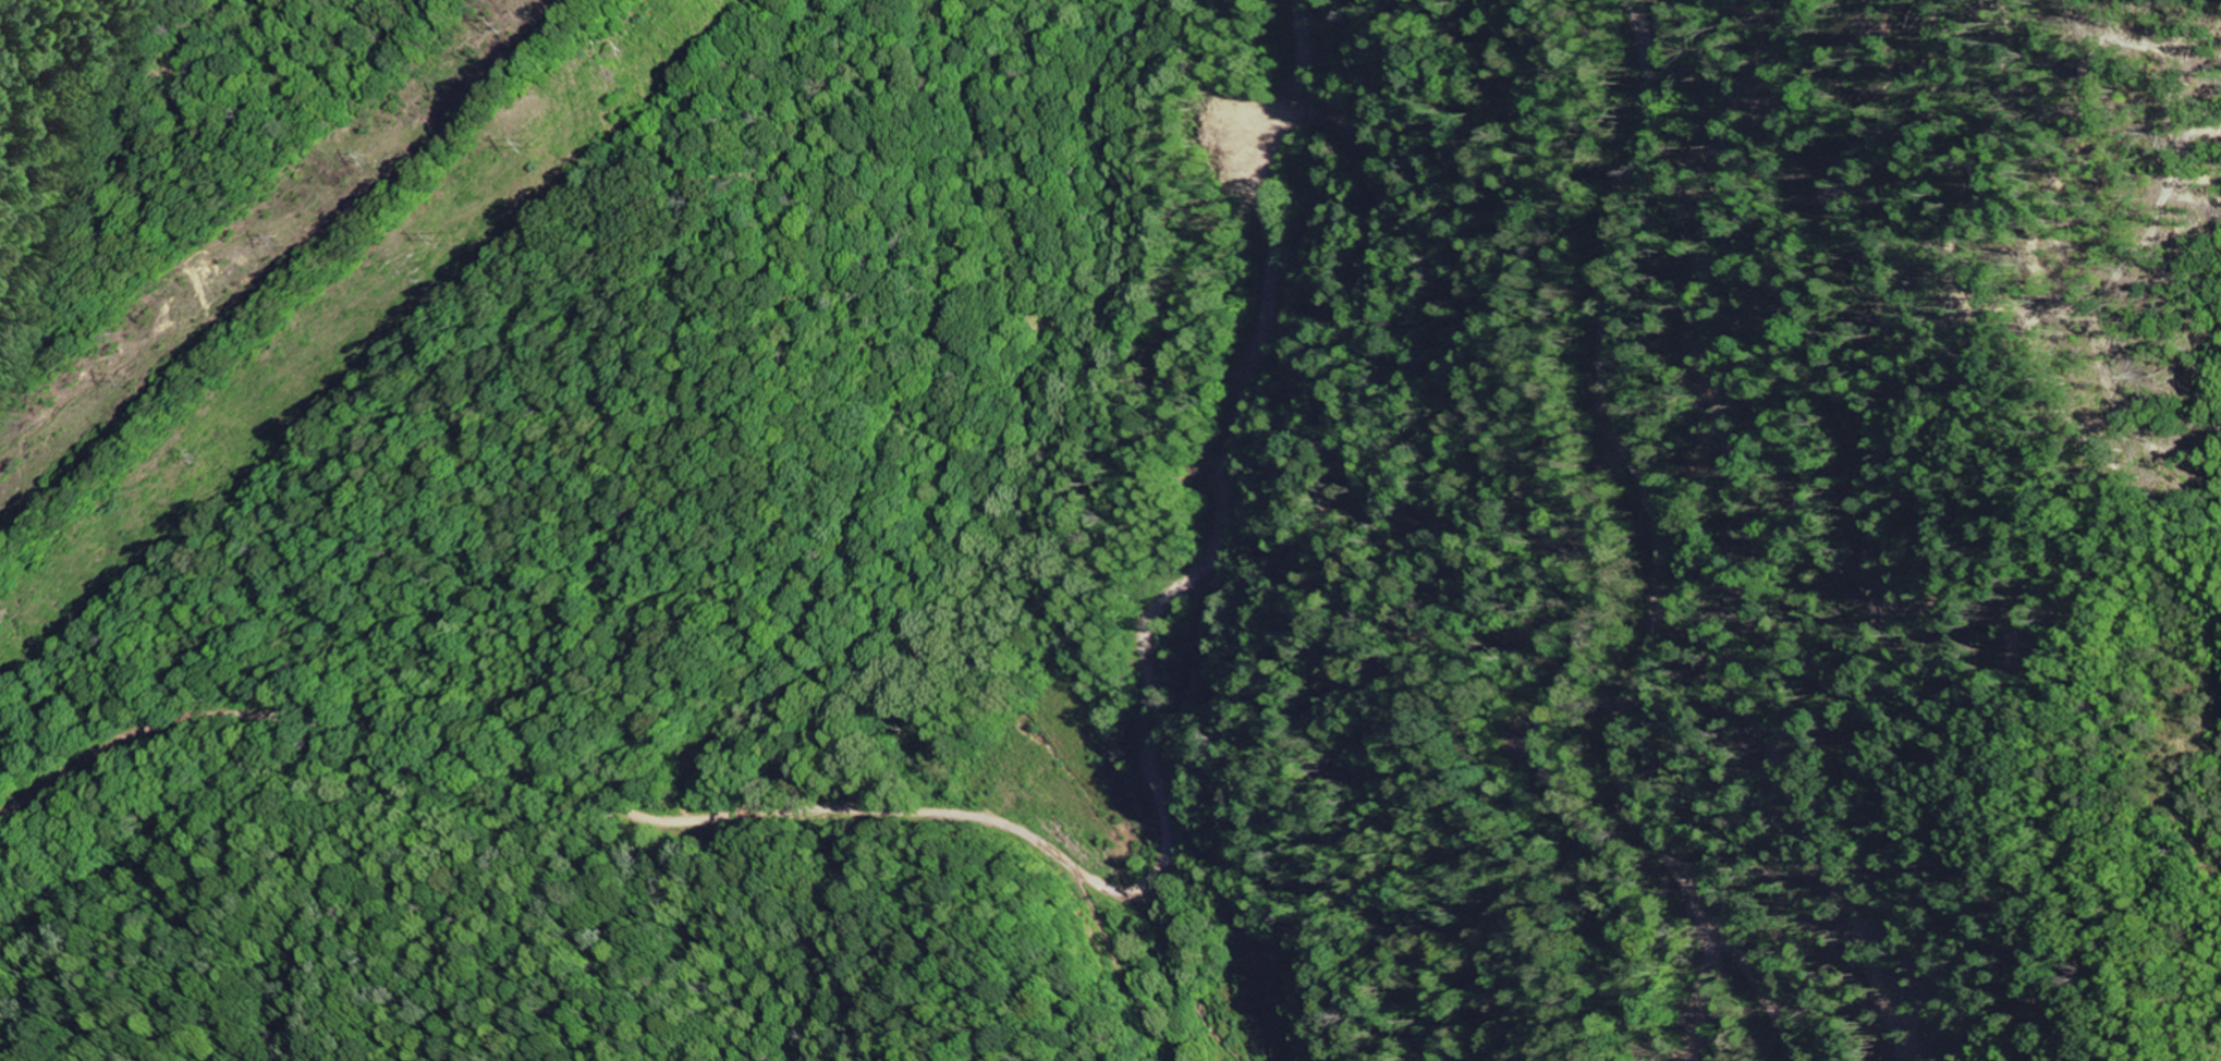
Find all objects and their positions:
power tower: (533, 138)
power tower: (431, 235)
power tower: (193, 451)
road: (997, 825)

